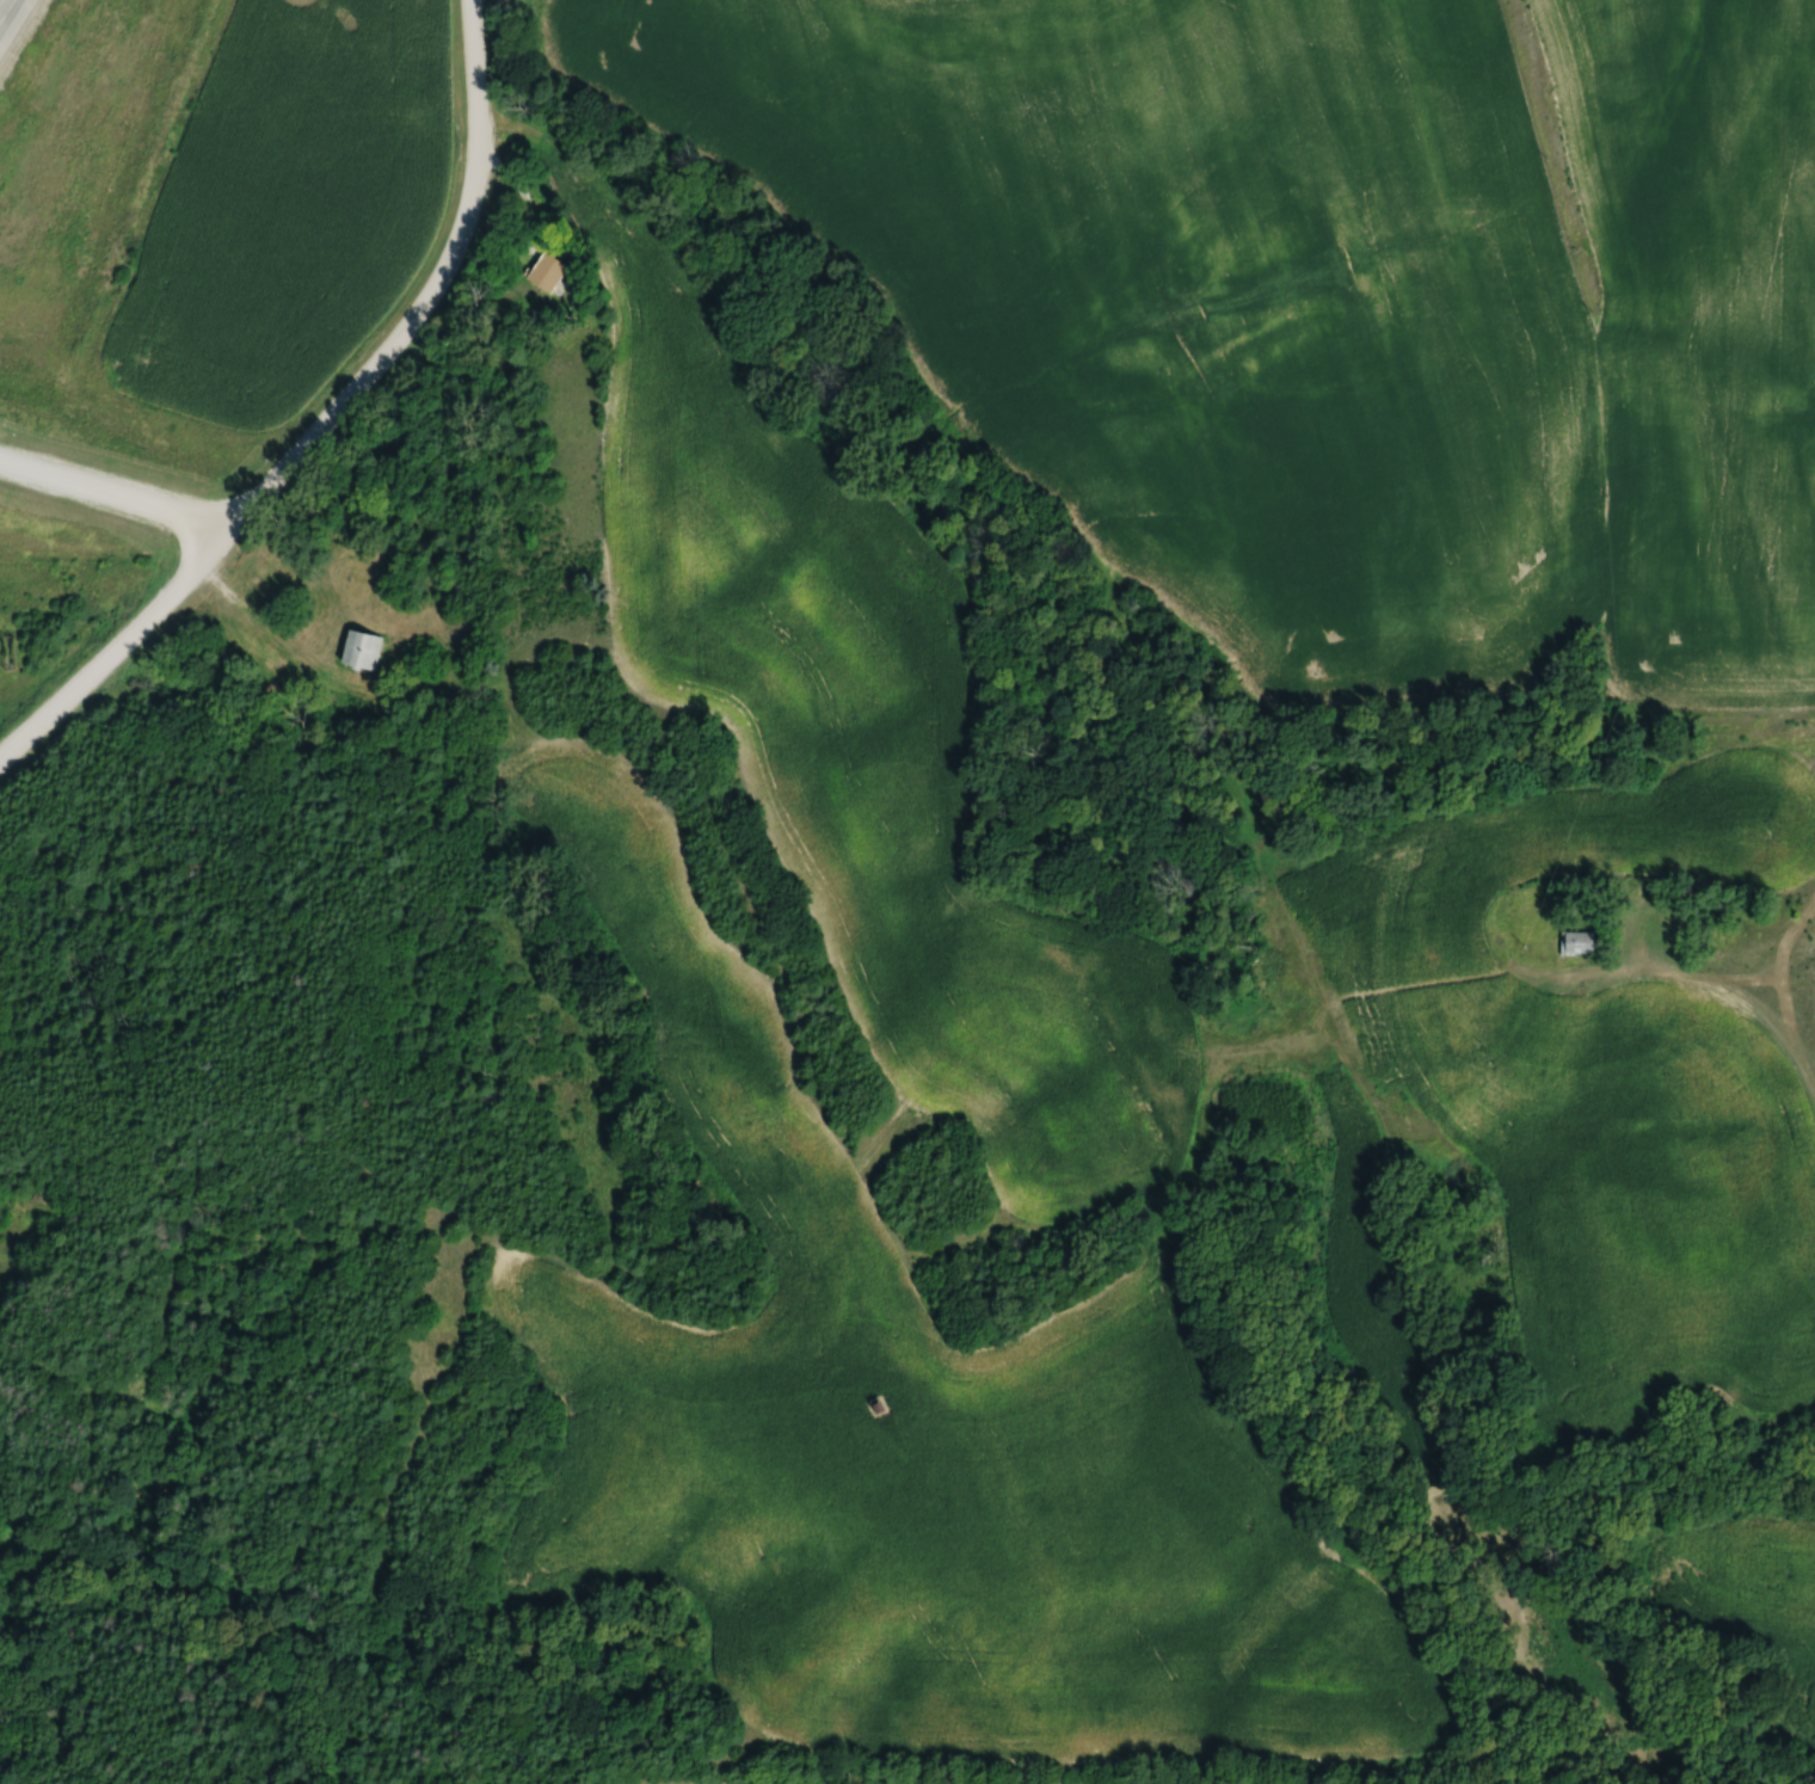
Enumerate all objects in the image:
road: (8, 14)
building: (549, 272)
road: (362, 386)
road: (180, 545)
road: (262, 616)
road: (127, 635)
building: (363, 650)
building: (1571, 943)

